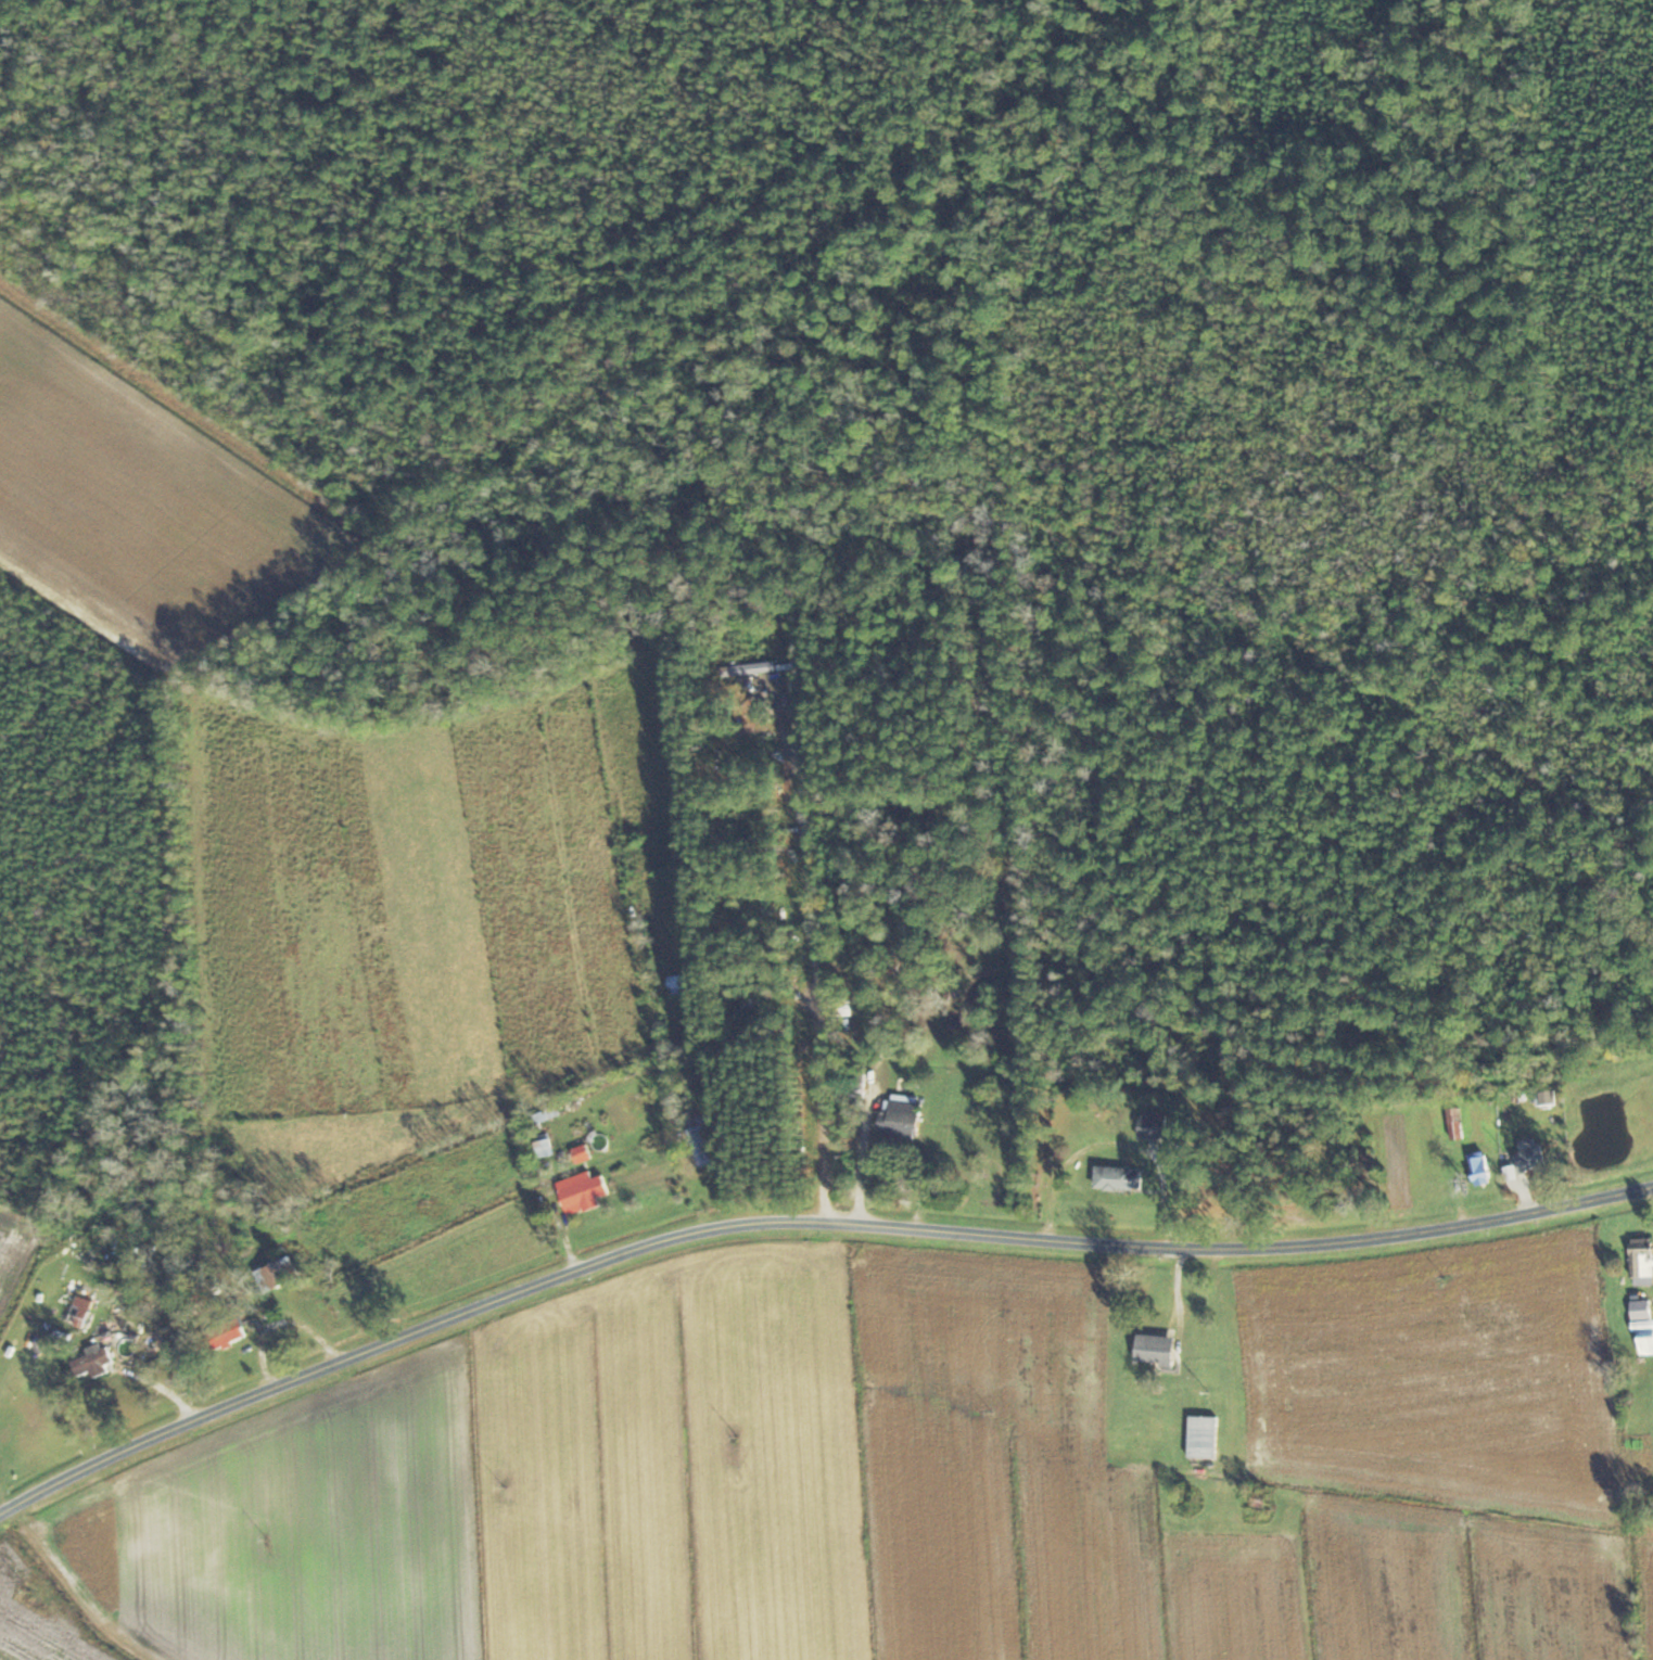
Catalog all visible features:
building: (746, 677)
road: (813, 961)
building: (847, 1008)
building: (1513, 1096)
building: (548, 1115)
building: (903, 1116)
building: (1458, 1124)
building: (1158, 1126)
building: (702, 1140)
building: (546, 1142)
building: (1533, 1161)
road: (862, 1162)
building: (1483, 1169)
building: (1120, 1178)
building: (584, 1190)
road: (798, 1220)
building: (1643, 1259)
building: (281, 1274)
building: (81, 1312)
building: (1644, 1324)
building: (229, 1333)
building: (1158, 1350)
building: (97, 1361)
building: (1205, 1438)

